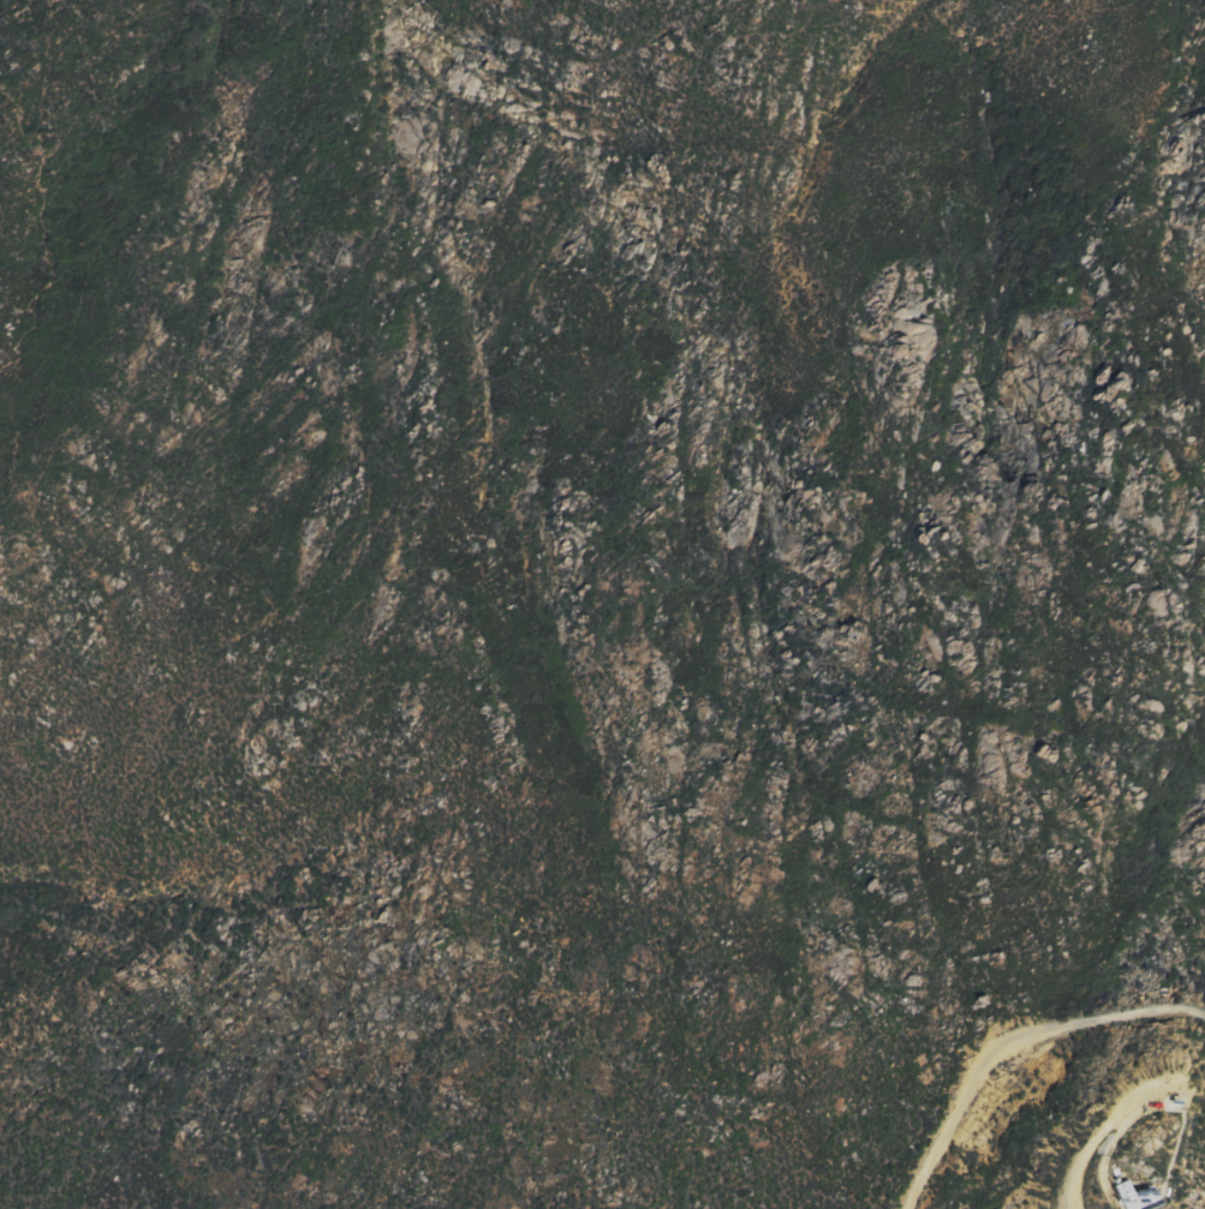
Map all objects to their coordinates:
road: (1009, 1039)
road: (1151, 1099)
road: (1195, 1113)
road: (1167, 1142)
building: (1138, 1195)

